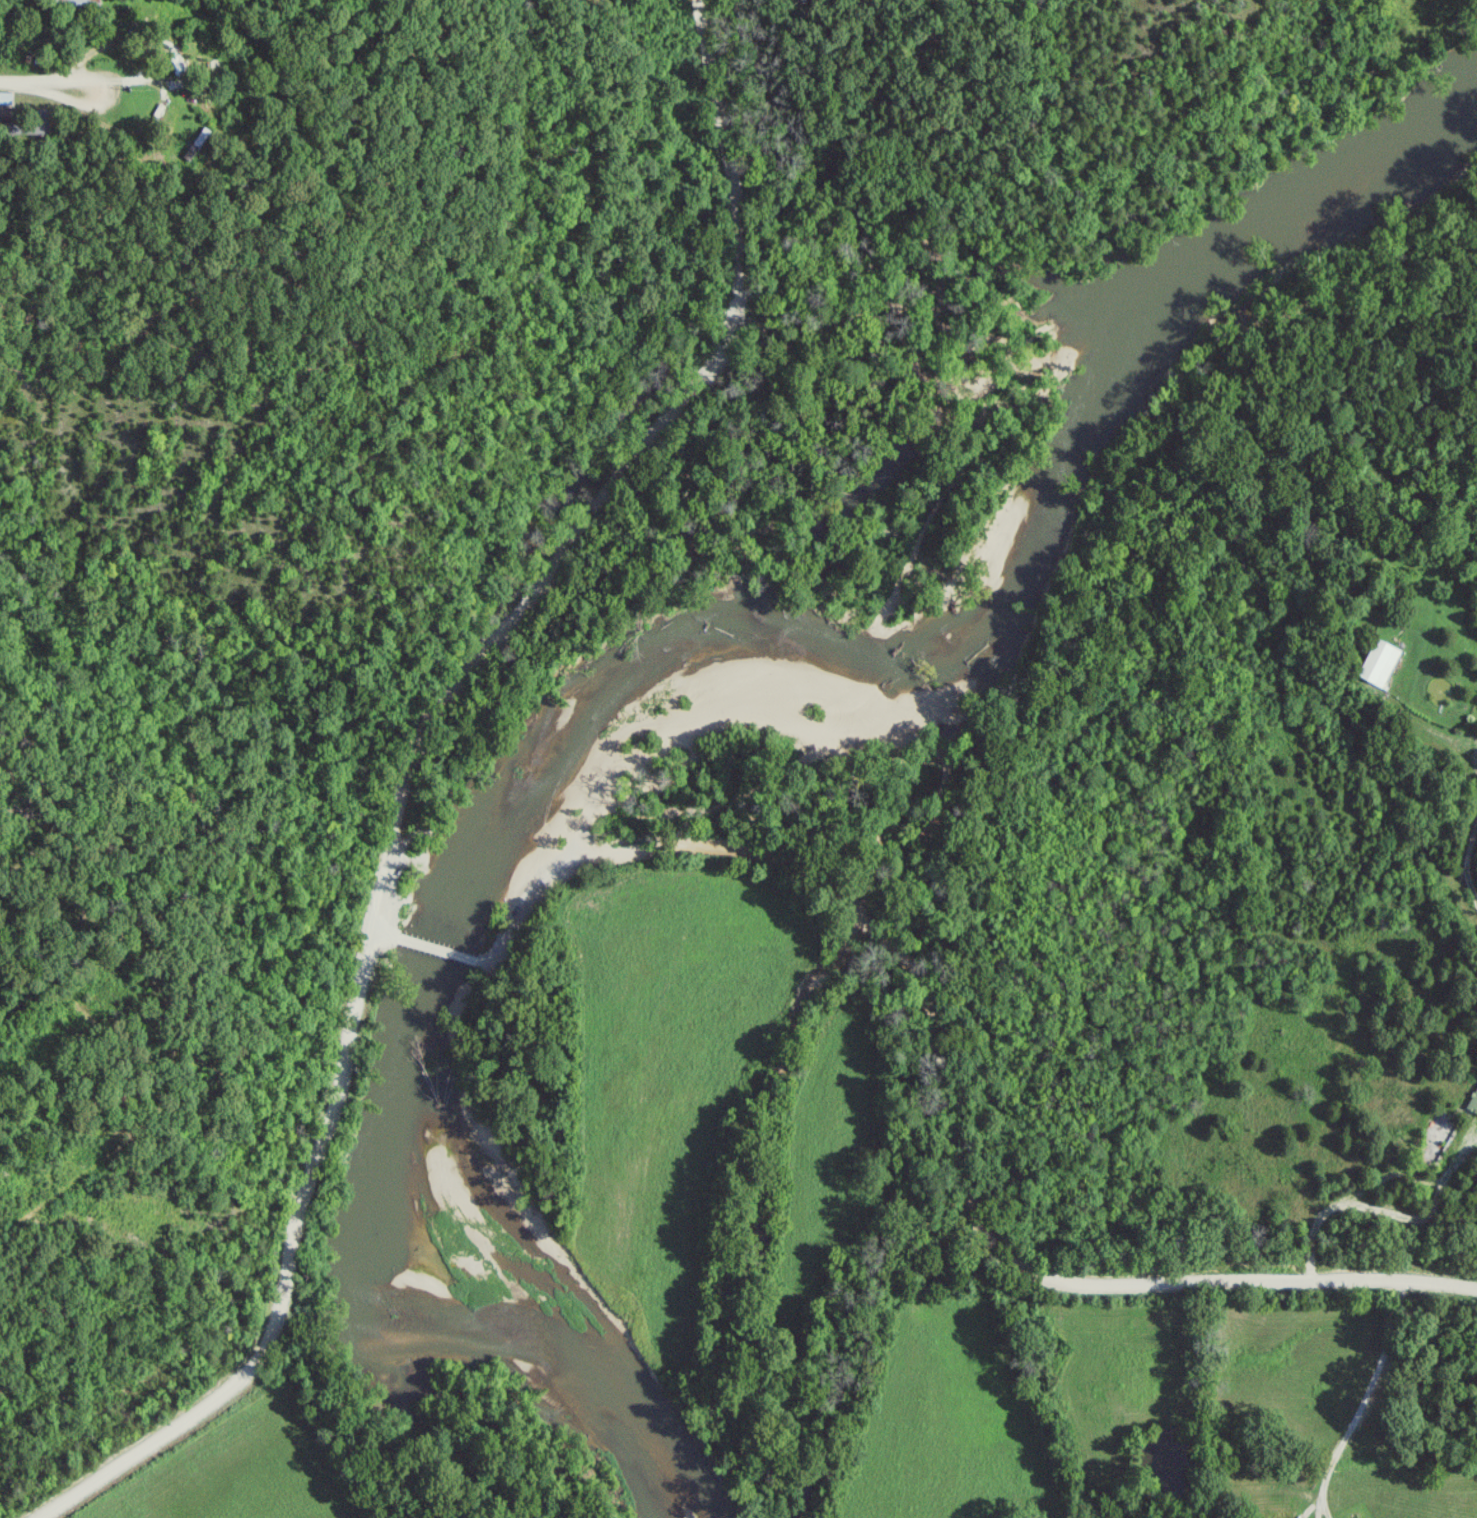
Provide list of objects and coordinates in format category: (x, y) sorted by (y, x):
building: (84, 4)
road: (41, 82)
building: (7, 99)
road: (629, 492)
building: (1381, 663)
river: (688, 675)
road: (1475, 752)
road: (1464, 863)
road: (383, 933)
road: (436, 949)
road: (960, 1085)
building: (1474, 1103)
road: (298, 1270)
road: (1364, 1397)
road: (1185, 1408)

